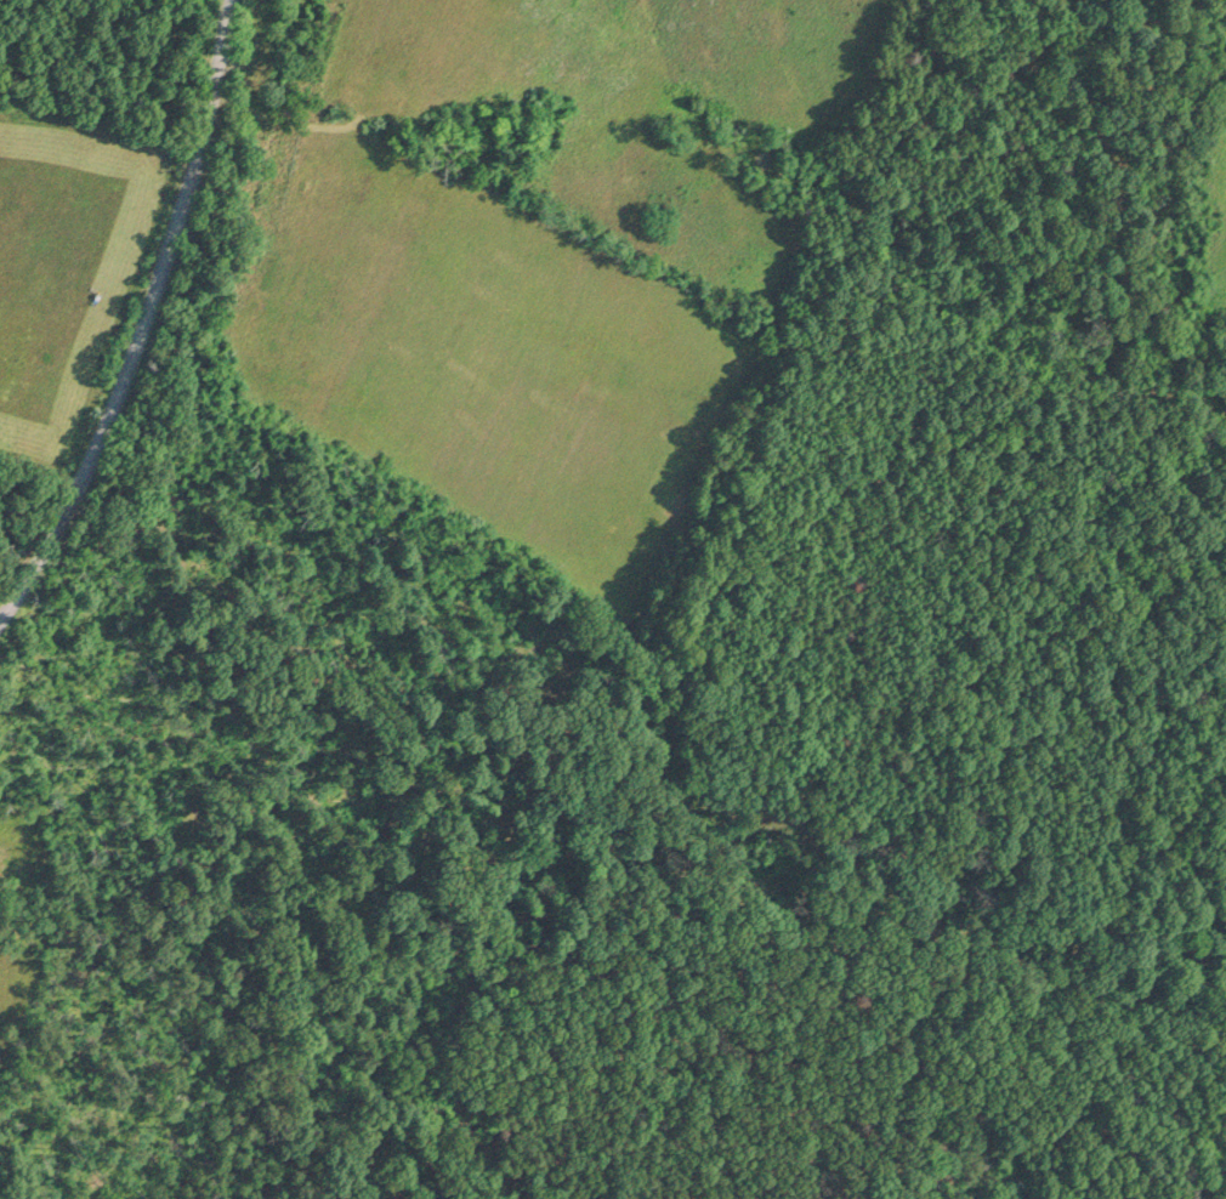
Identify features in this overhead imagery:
road: (144, 325)

